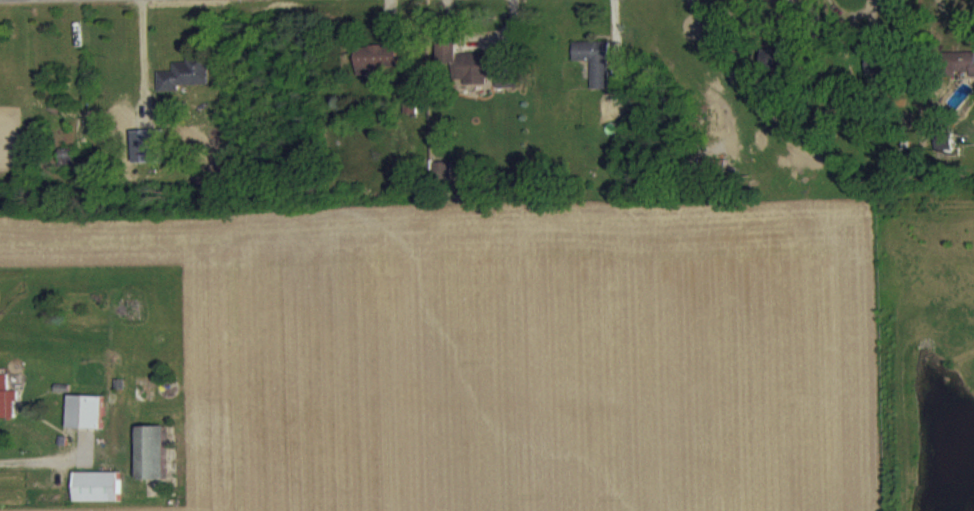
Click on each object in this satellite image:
building: (779, 67)
building: (380, 70)
building: (594, 72)
building: (464, 75)
building: (882, 76)
building: (963, 76)
building: (184, 86)
building: (409, 116)
building: (148, 157)
building: (6, 410)
building: (86, 423)
road: (36, 455)
building: (151, 464)
building: (97, 497)

